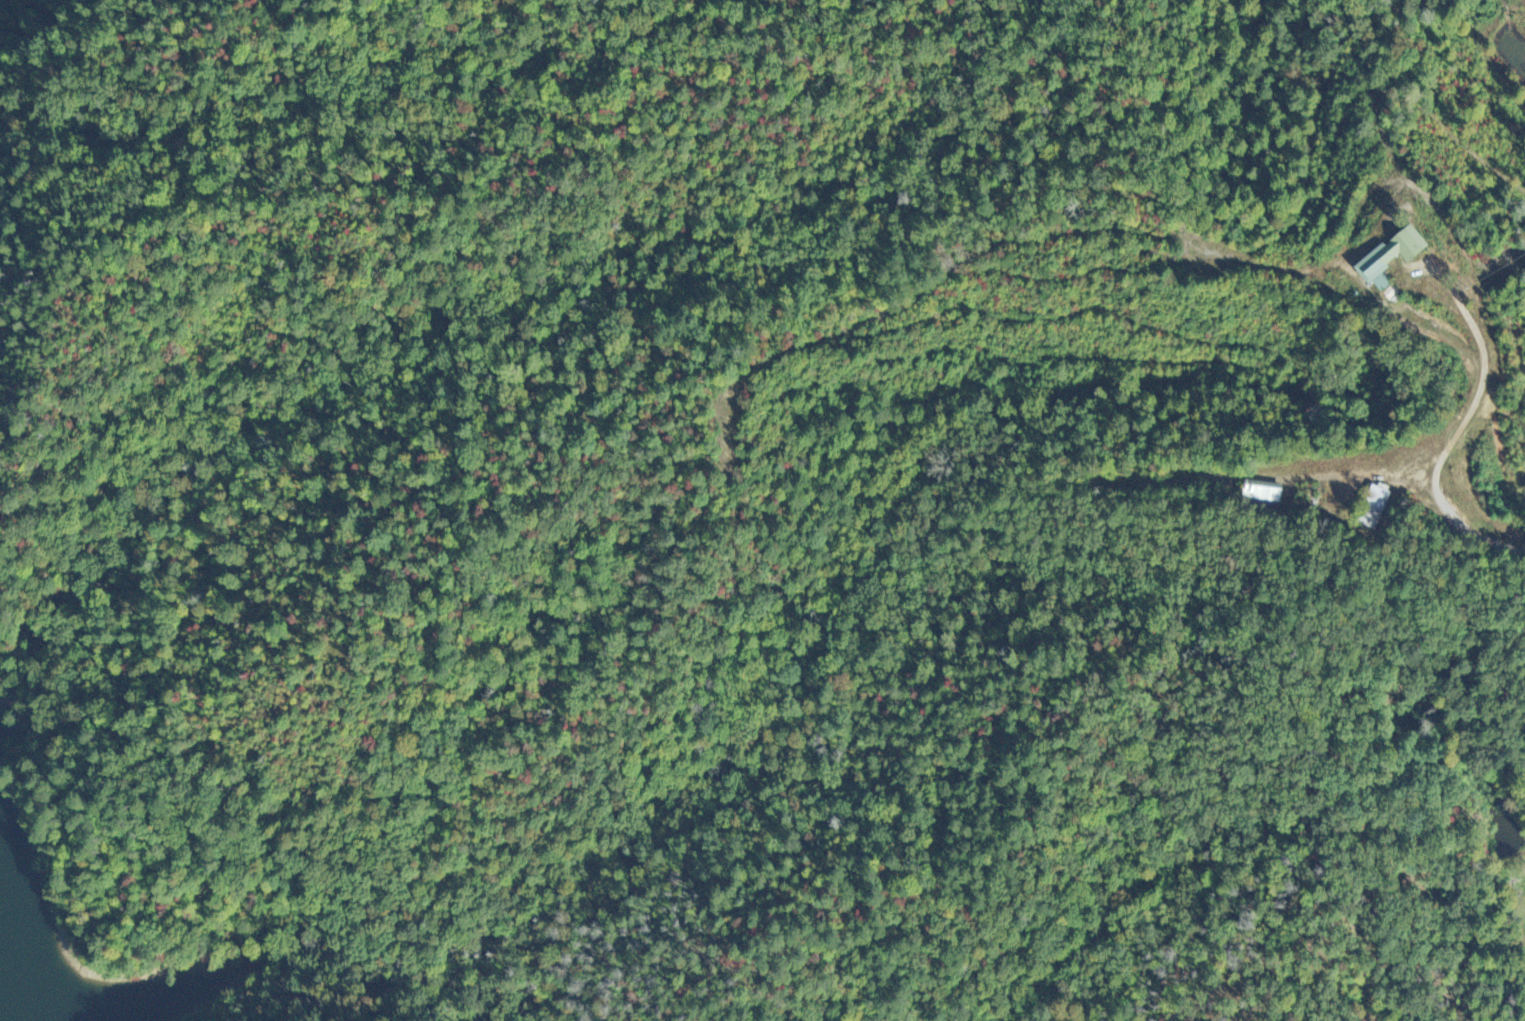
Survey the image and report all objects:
building: (1378, 258)
road: (1454, 432)
building: (1259, 494)
building: (1369, 510)

